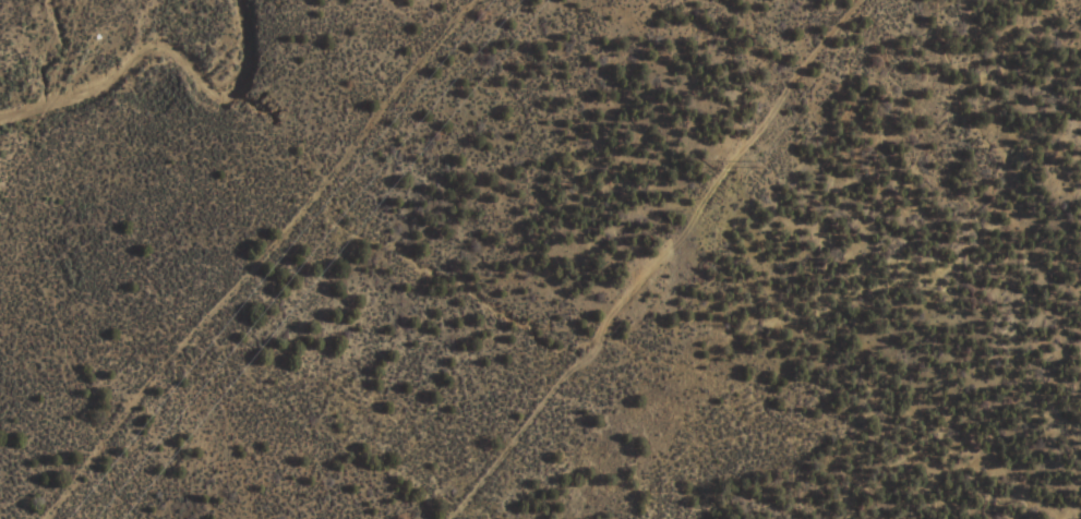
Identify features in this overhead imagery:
river: (151, 40)

